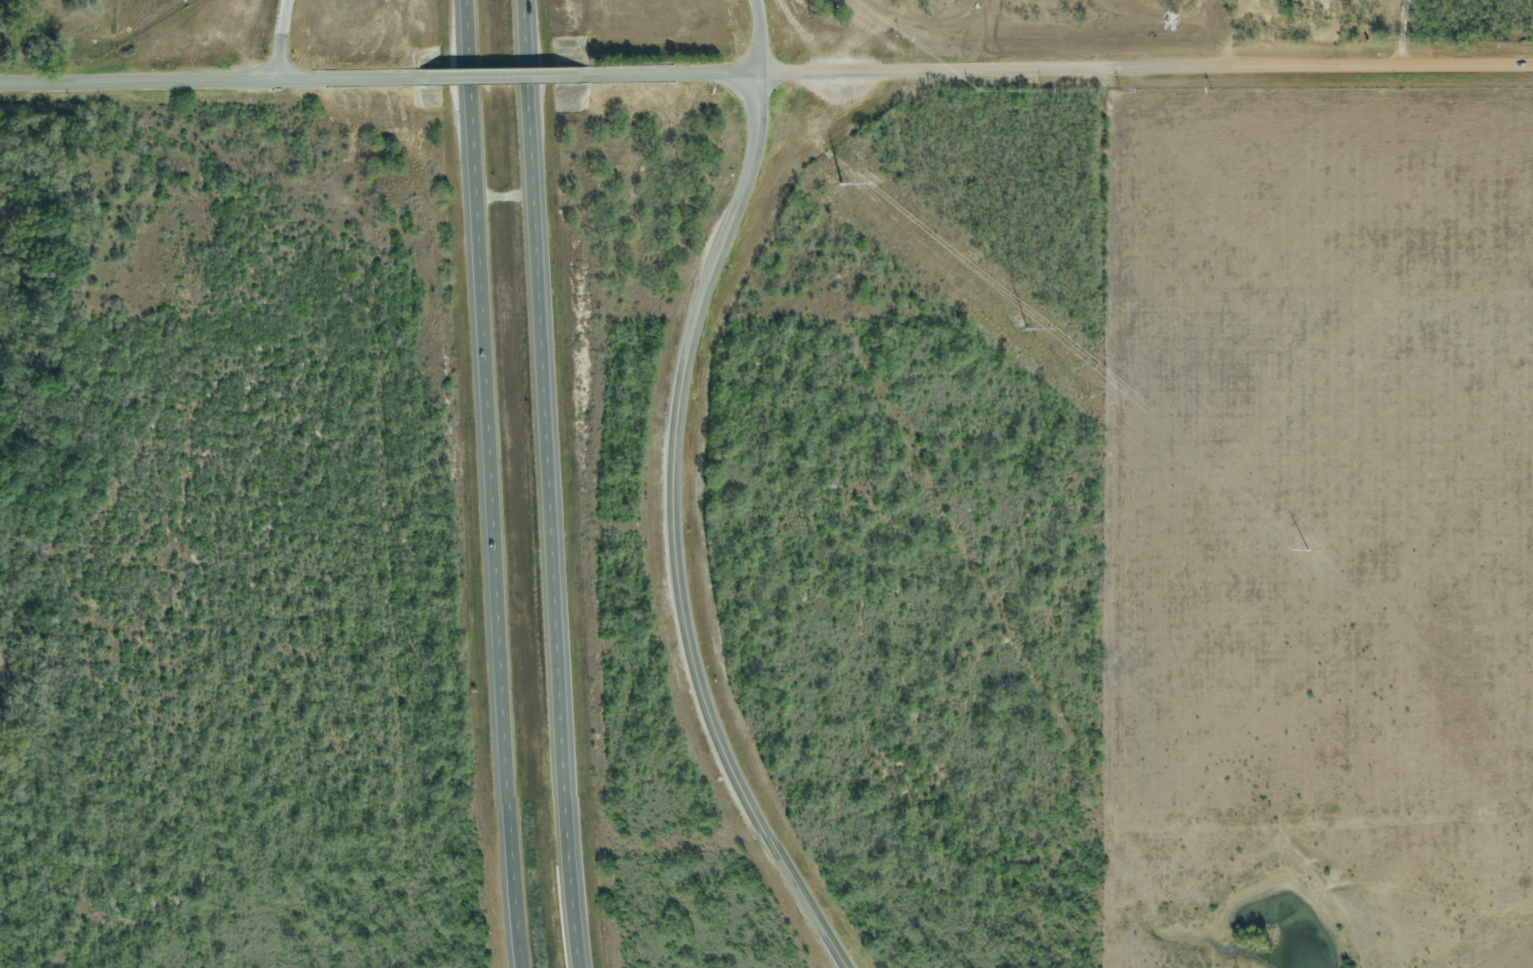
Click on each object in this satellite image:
road: (762, 35)
road: (284, 39)
road: (1148, 69)
road: (675, 74)
road: (502, 76)
road: (209, 80)
power tower: (837, 177)
road: (507, 197)
power tower: (1025, 324)
road: (490, 484)
road: (552, 484)
road: (676, 533)
power tower: (1301, 544)

